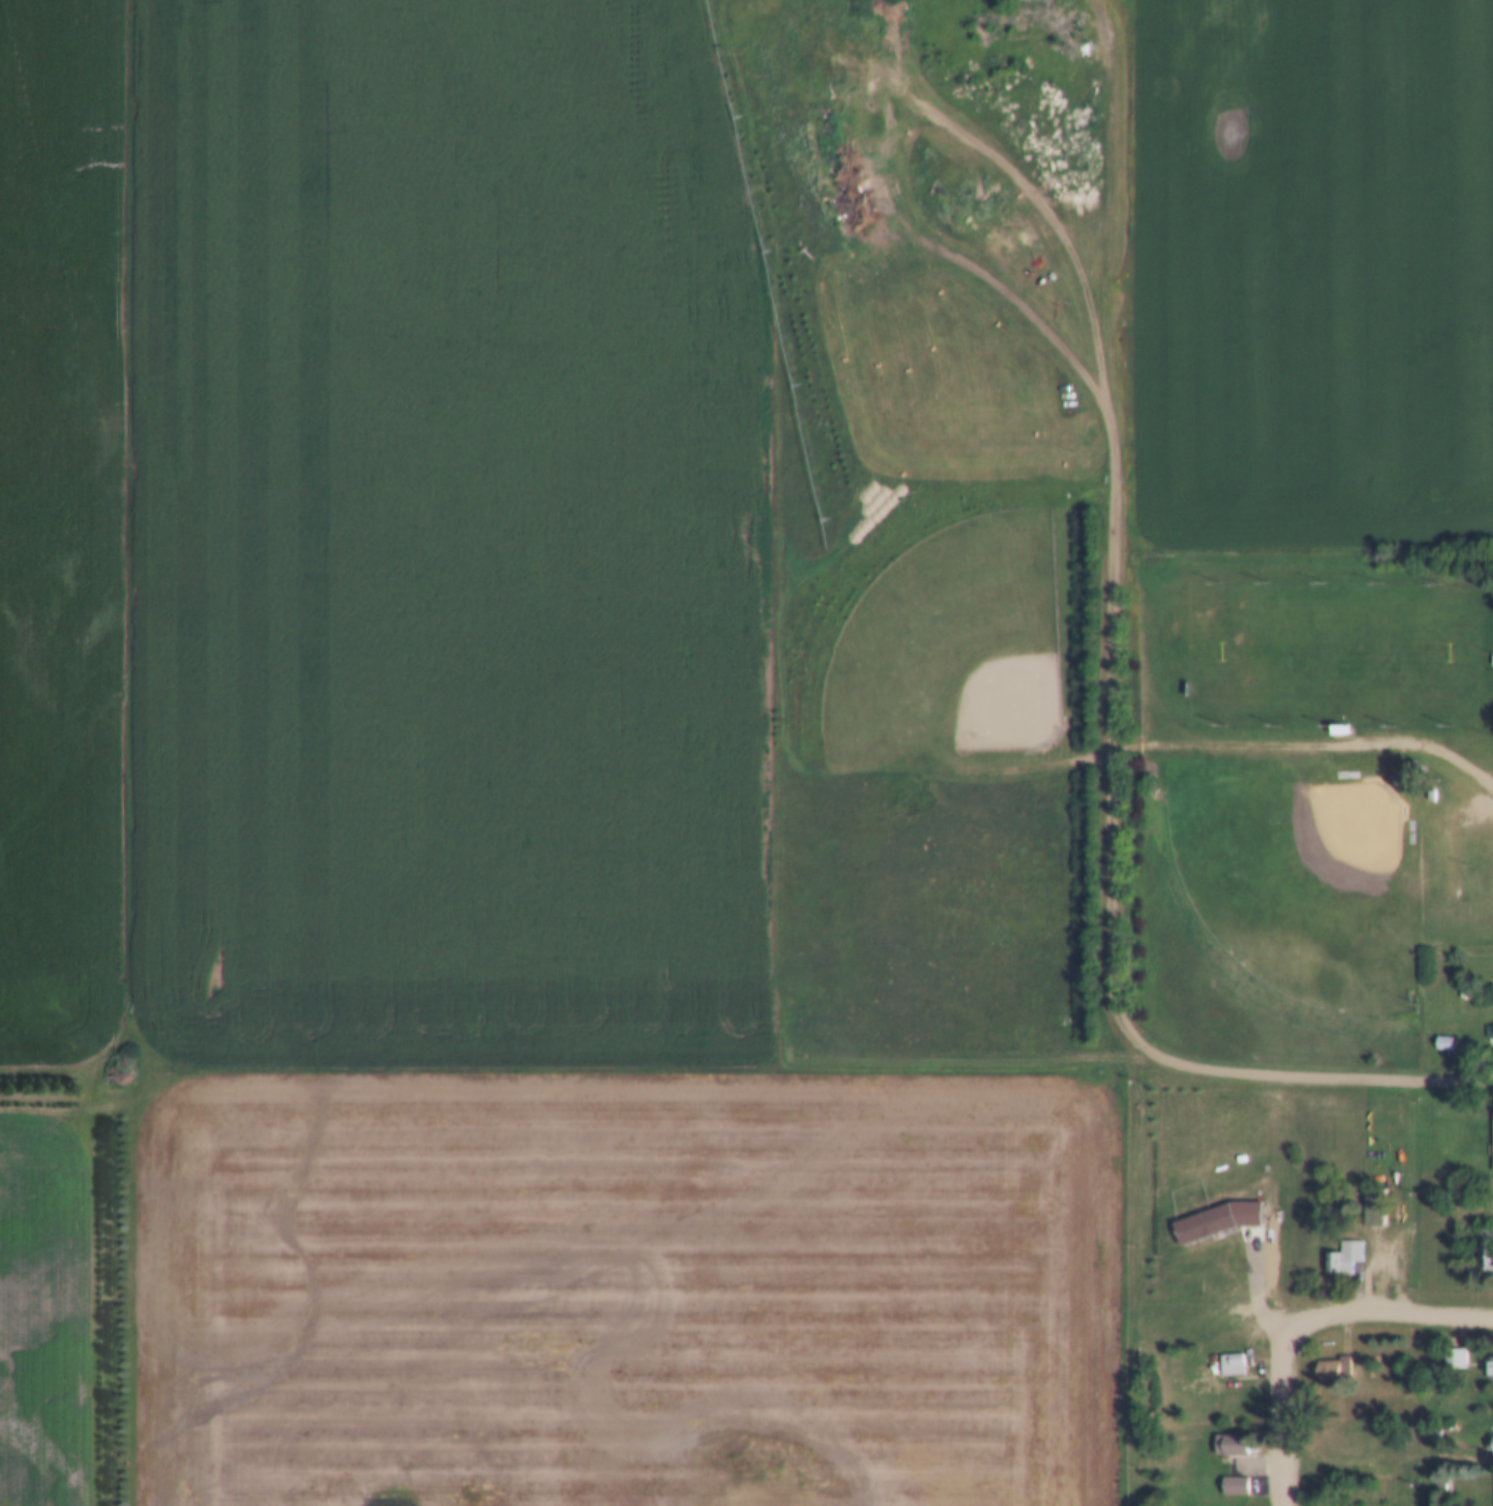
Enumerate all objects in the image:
road: (1102, 377)
street lamp: (1213, 569)
street lamp: (1262, 569)
street lamp: (1319, 570)
street lamp: (1376, 570)
street lamp: (1432, 570)
park: (1331, 638)
park: (951, 645)
building: (1490, 648)
street lamp: (1220, 711)
street lamp: (1272, 711)
street lamp: (1326, 712)
street lamp: (1389, 712)
street lamp: (1445, 712)
building: (1332, 719)
building: (1338, 730)
building: (1393, 772)
building: (1398, 783)
building: (1427, 784)
road: (1112, 881)
park: (1302, 885)
building: (1459, 981)
storage tank: (1492, 1004)
building: (1487, 1022)
building: (1439, 1031)
building: (1489, 1035)
building: (1445, 1044)
building: (1491, 1130)
building: (1368, 1197)
building: (1391, 1205)
building: (1375, 1207)
building: (1214, 1209)
building: (1483, 1237)
building: (1339, 1246)
building: (1344, 1258)
road: (1405, 1310)
building: (1428, 1335)
building: (1451, 1347)
building: (1227, 1353)
building: (1487, 1357)
building: (1327, 1358)
building: (1455, 1360)
building: (1232, 1366)
building: (1331, 1370)
building: (1488, 1370)
road: (1278, 1404)
building: (1227, 1433)
building: (1488, 1434)
building: (1232, 1446)
building: (1490, 1446)
building: (1230, 1474)
building: (1235, 1486)
building: (1492, 1488)

